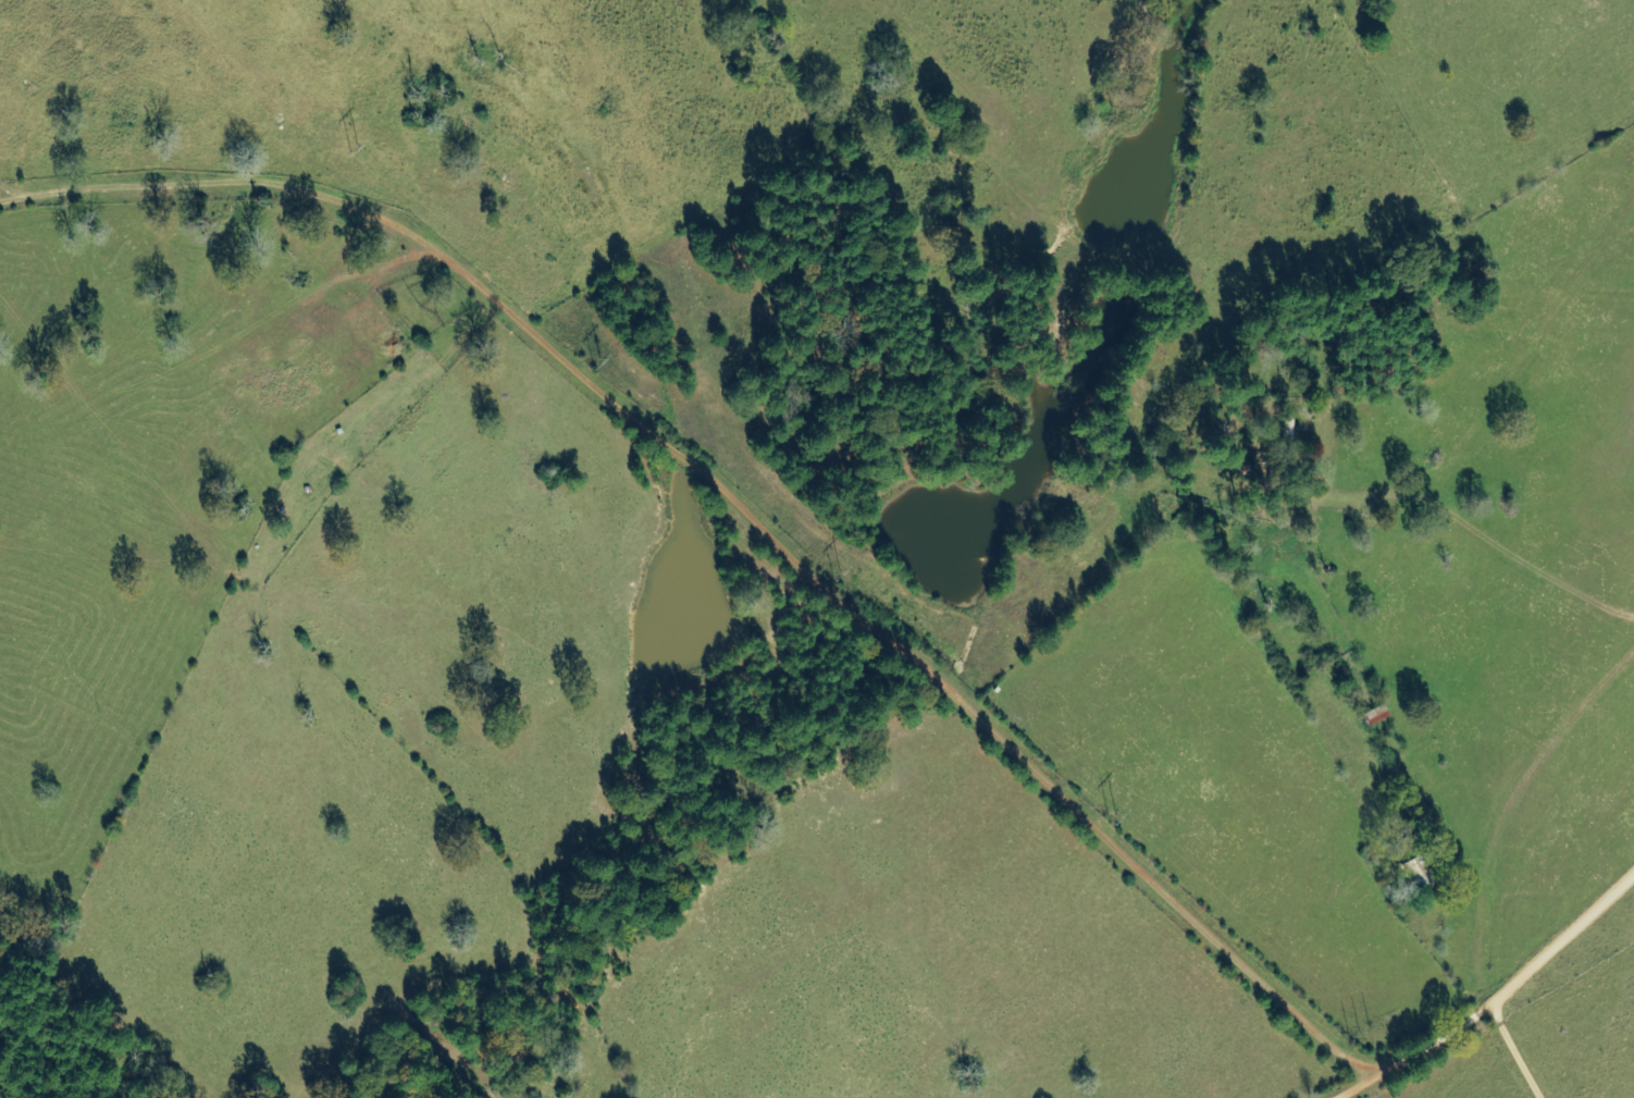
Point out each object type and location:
power tower: (354, 148)
power tower: (597, 360)
power tower: (840, 573)
building: (1374, 716)
power tower: (1115, 819)
road: (1565, 936)
power tower: (1358, 1031)
road: (1419, 1049)

